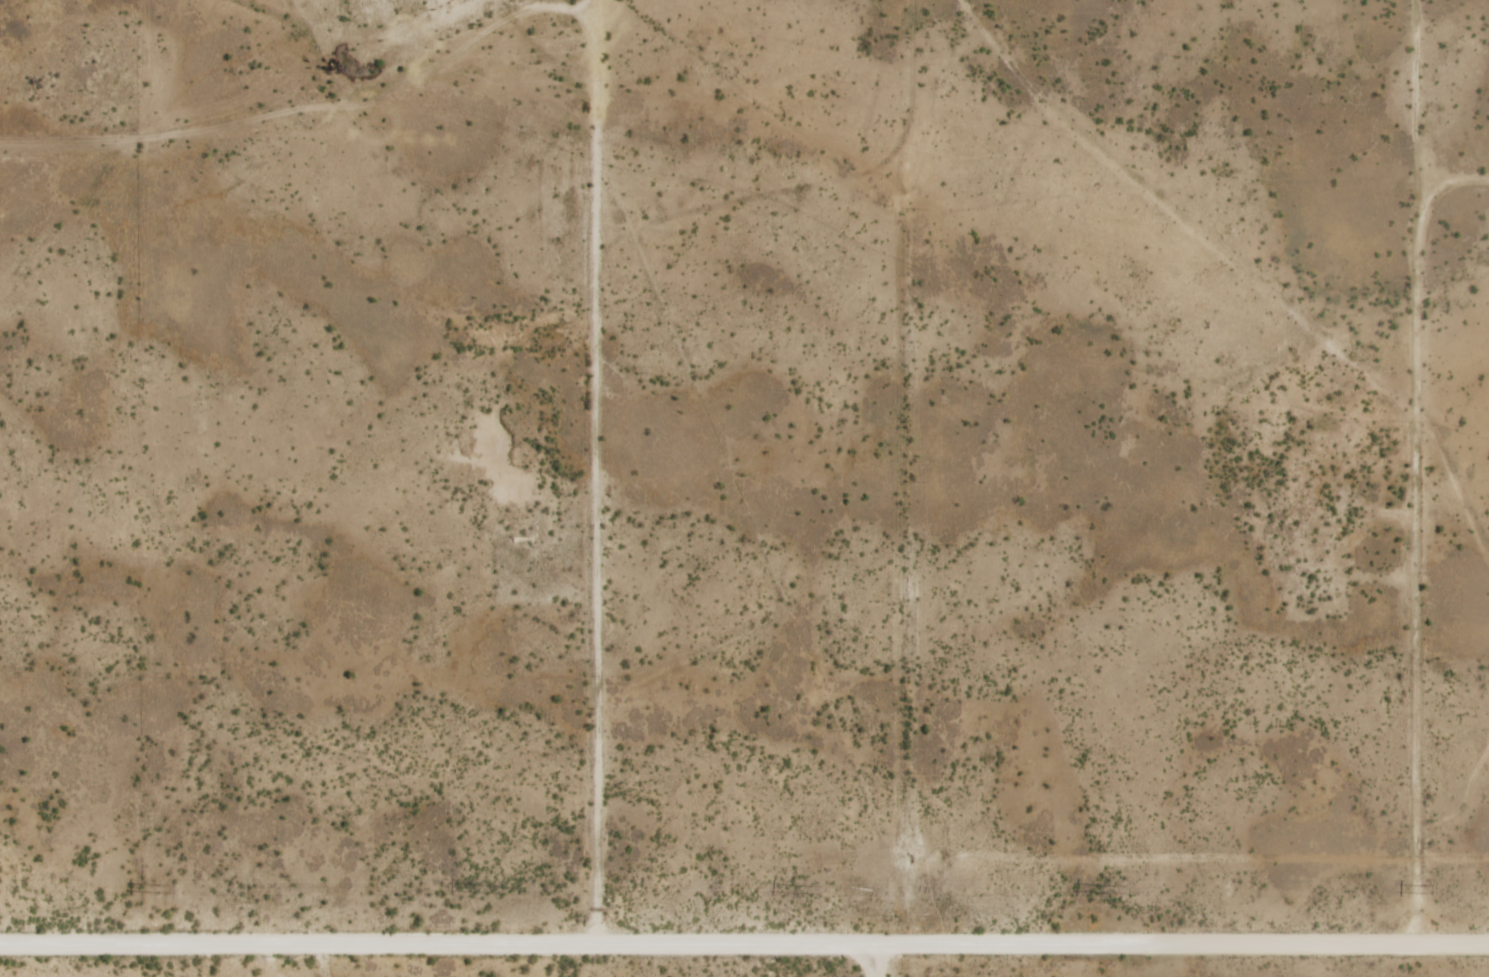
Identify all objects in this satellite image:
power tower: (480, 888)
power tower: (158, 889)
power tower: (801, 889)
power tower: (1105, 889)
power tower: (1430, 889)
road: (744, 945)
road: (882, 961)

